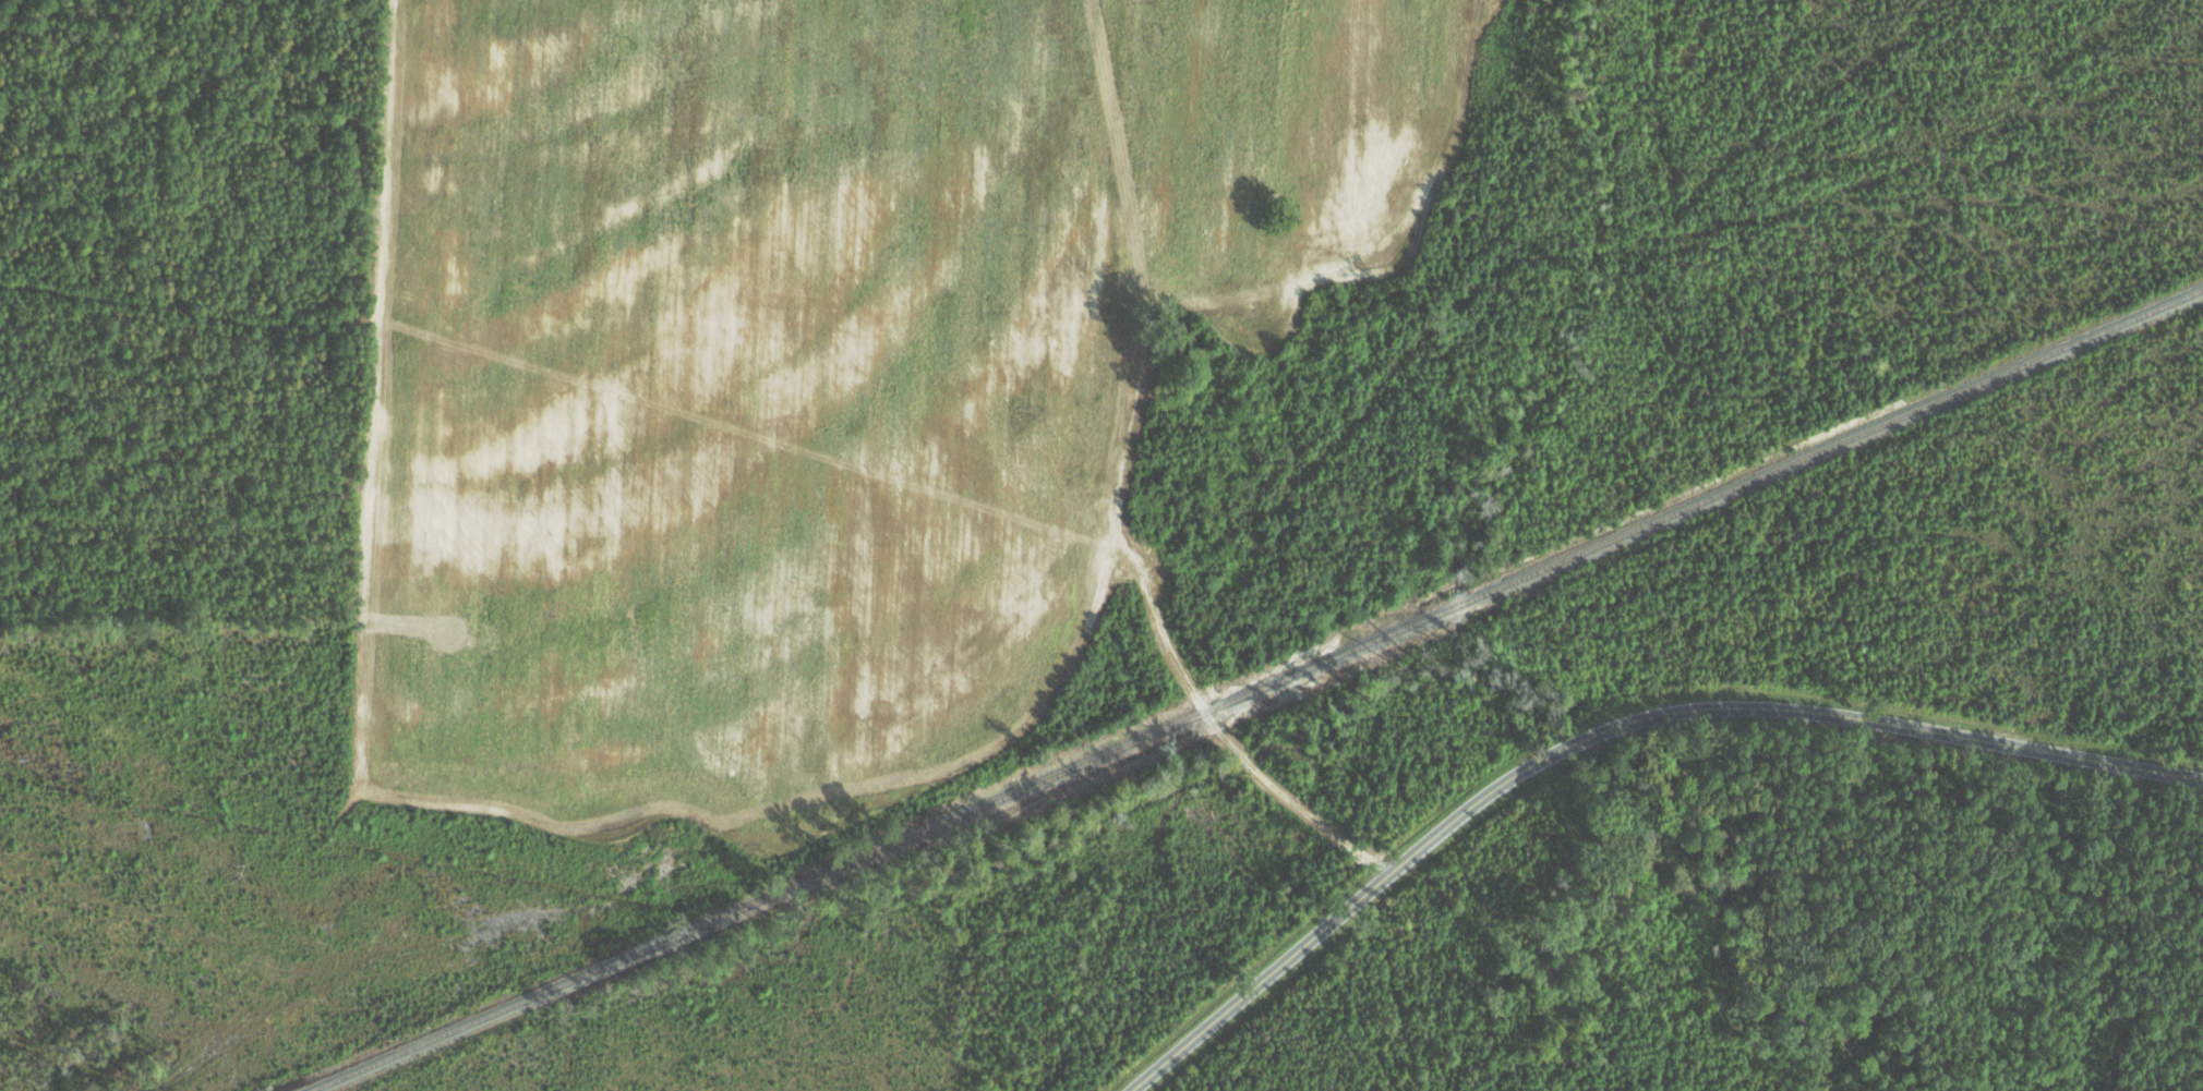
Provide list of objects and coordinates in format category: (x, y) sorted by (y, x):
railway: (1267, 693)
road: (1611, 730)

